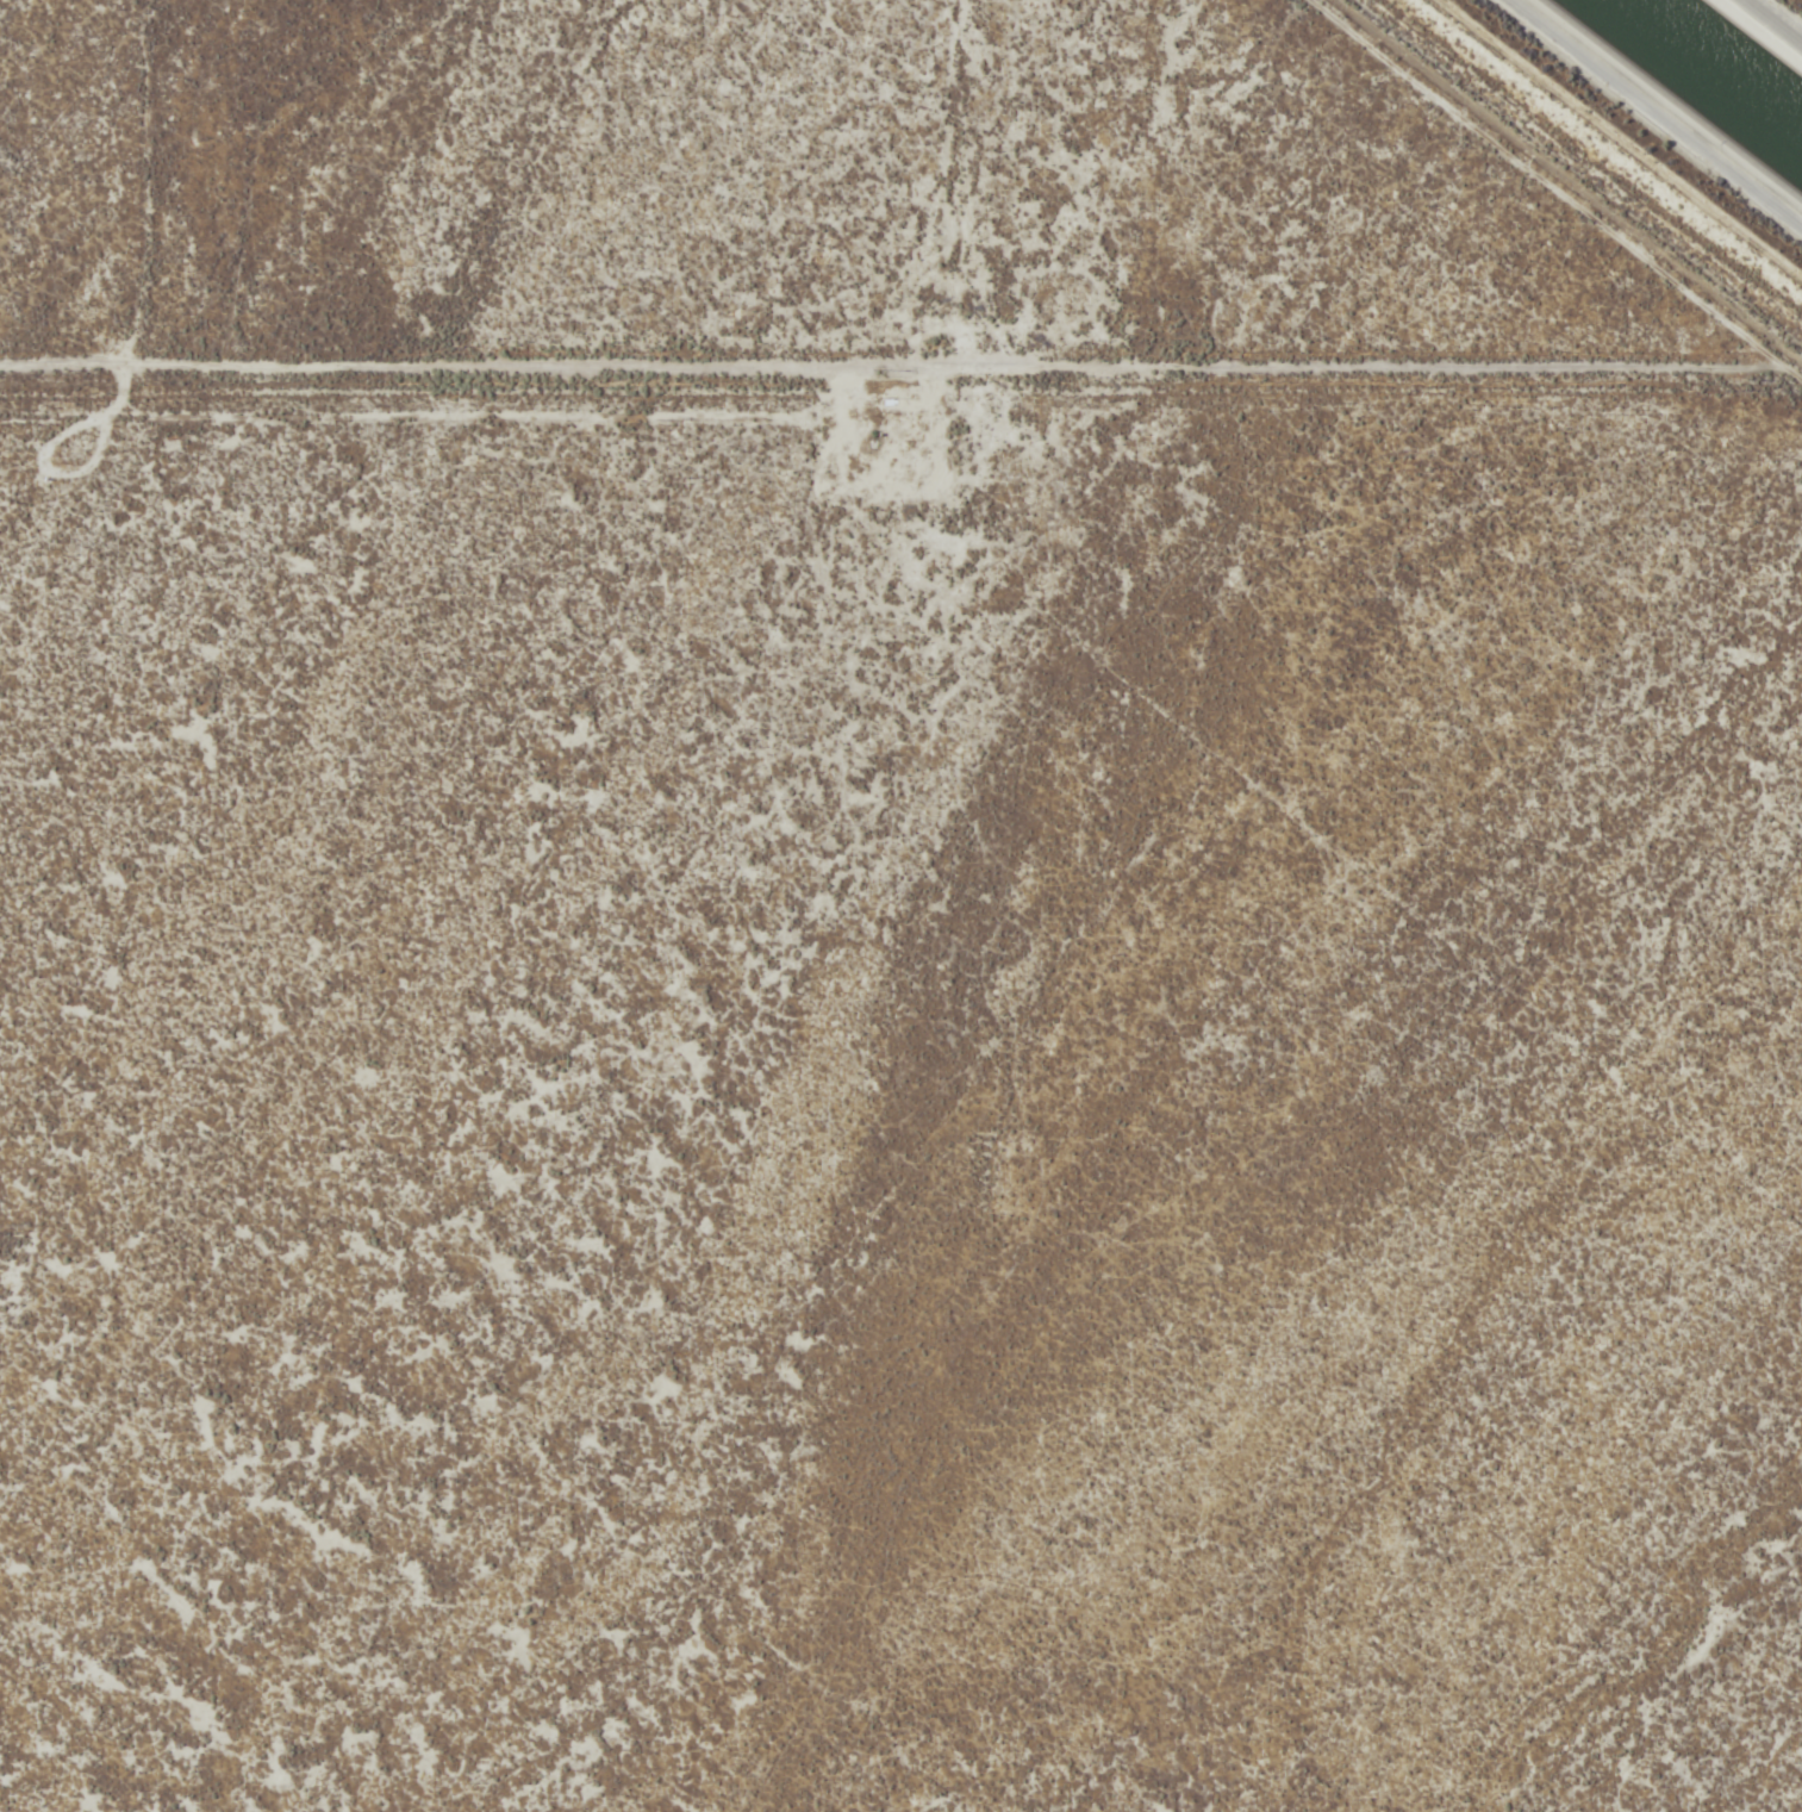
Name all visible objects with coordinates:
road: (1777, 18)
road: (1589, 162)
road: (980, 211)
road: (900, 423)

